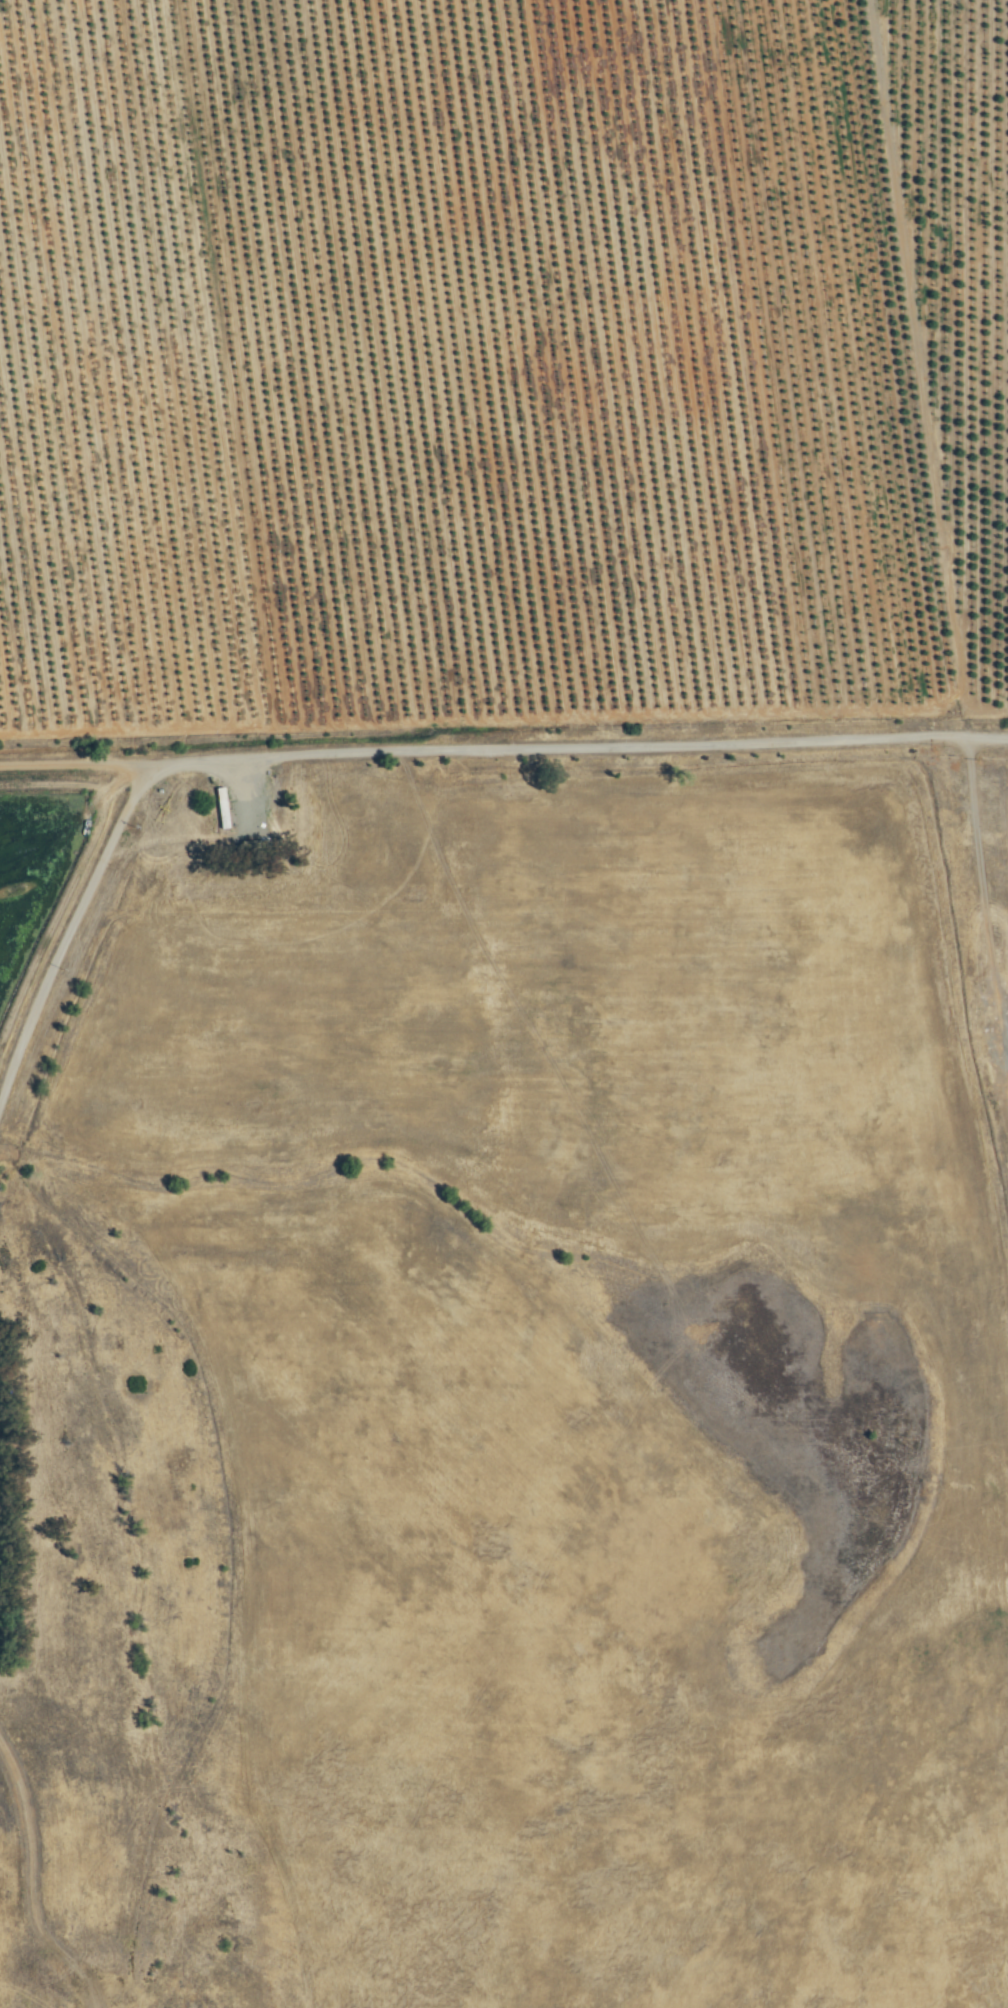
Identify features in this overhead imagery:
road: (985, 739)
road: (481, 762)
road: (984, 915)
road: (63, 934)

